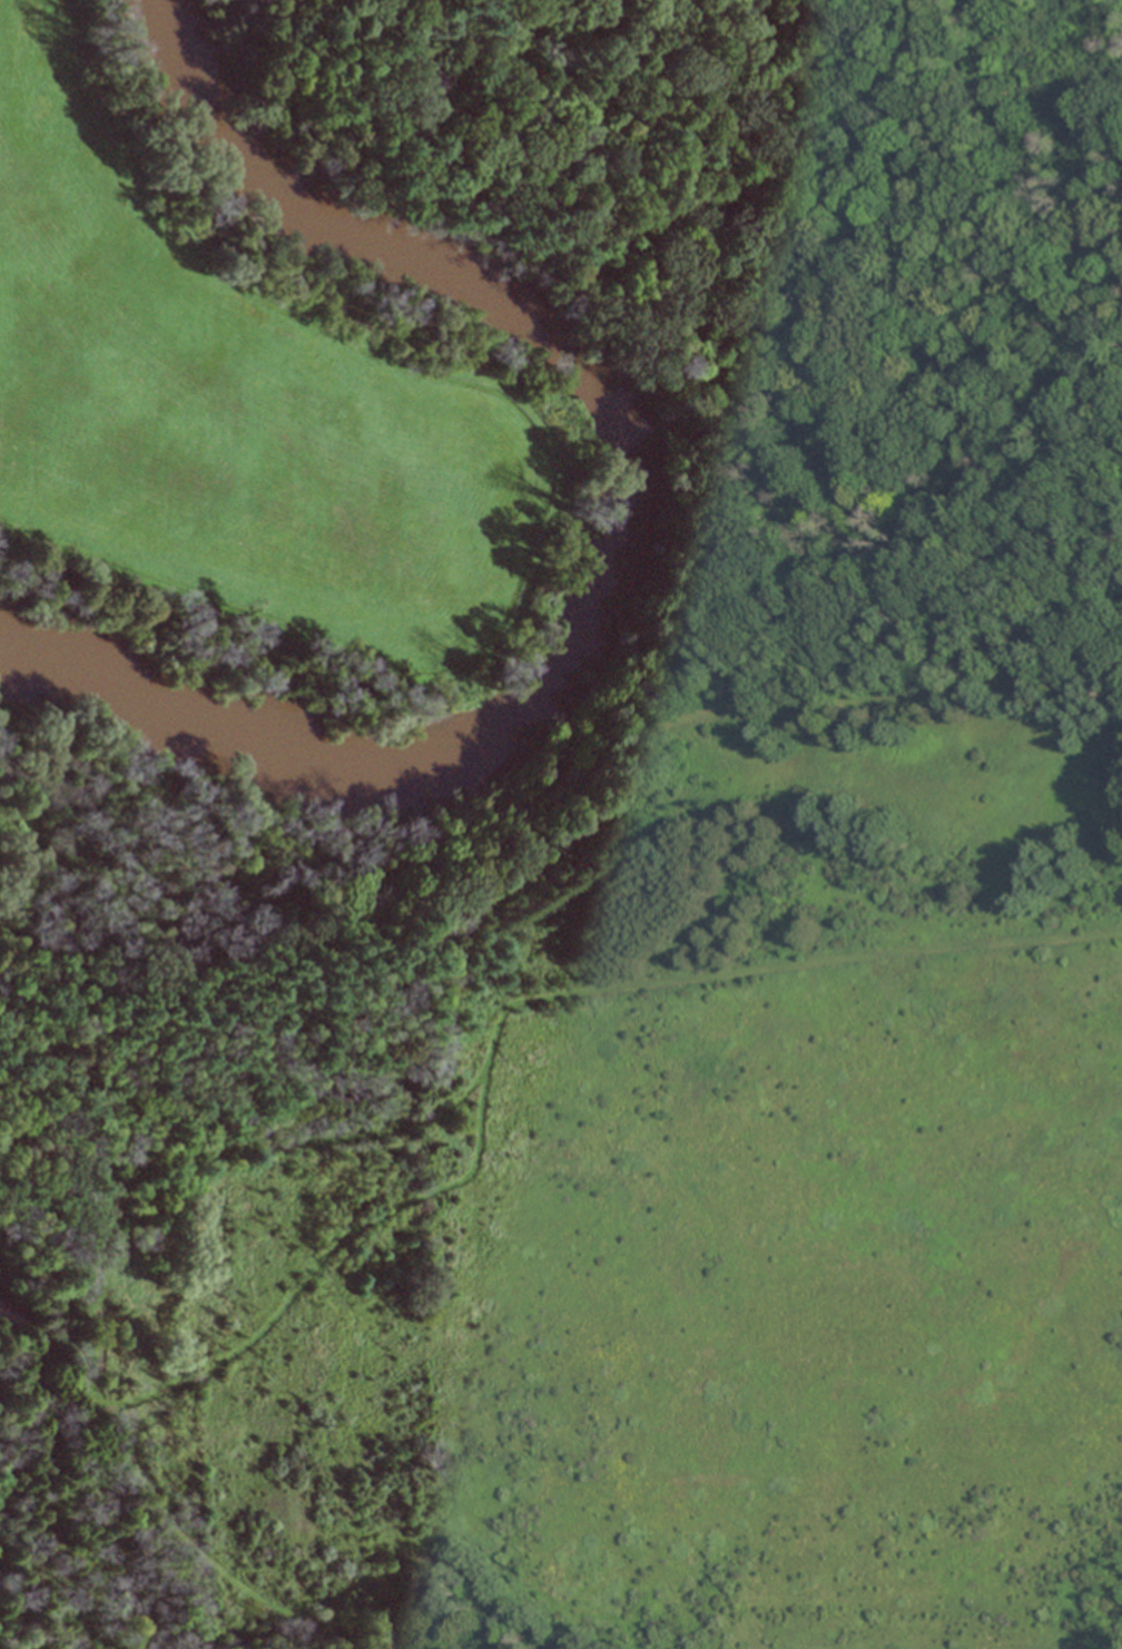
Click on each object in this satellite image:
crop: (248, 416)
river: (618, 547)

